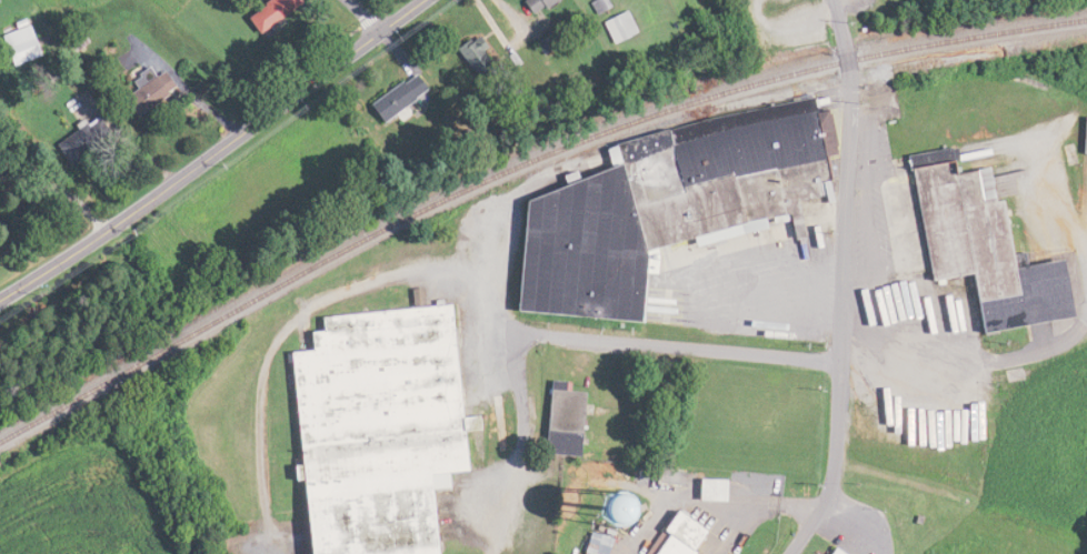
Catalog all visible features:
building: (526, 4)
road: (366, 14)
building: (611, 24)
building: (32, 42)
building: (465, 54)
building: (164, 89)
building: (388, 95)
building: (94, 138)
road: (213, 153)
railway: (519, 163)
building: (657, 203)
road: (1067, 213)
building: (975, 243)
road: (400, 270)
road: (841, 282)
road: (679, 344)
road: (970, 366)
building: (557, 421)
building: (369, 427)
building: (705, 488)
water tower: (604, 520)
building: (671, 535)
building: (591, 544)
building: (828, 551)

